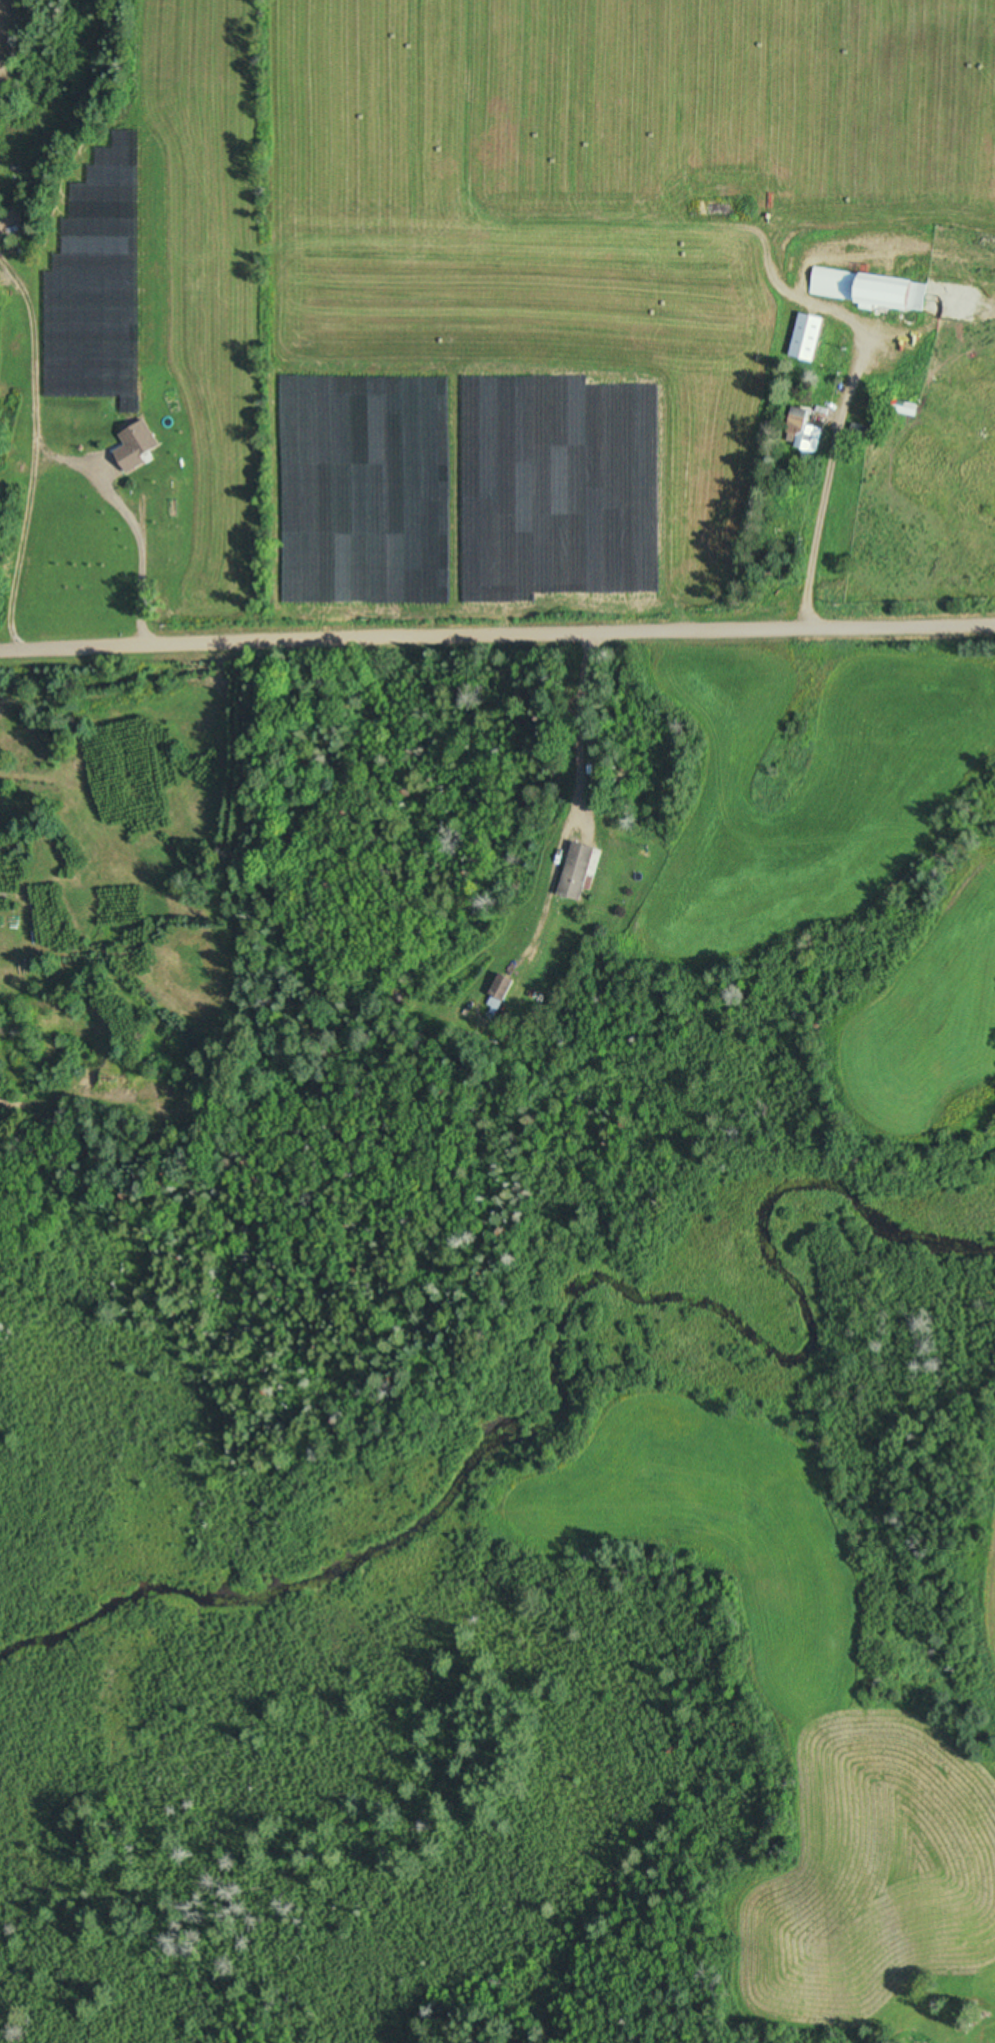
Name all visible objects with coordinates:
building: (193, 287)
building: (872, 291)
building: (813, 338)
building: (911, 409)
building: (94, 415)
building: (811, 431)
building: (70, 450)
road: (497, 622)
building: (583, 872)
building: (505, 988)

